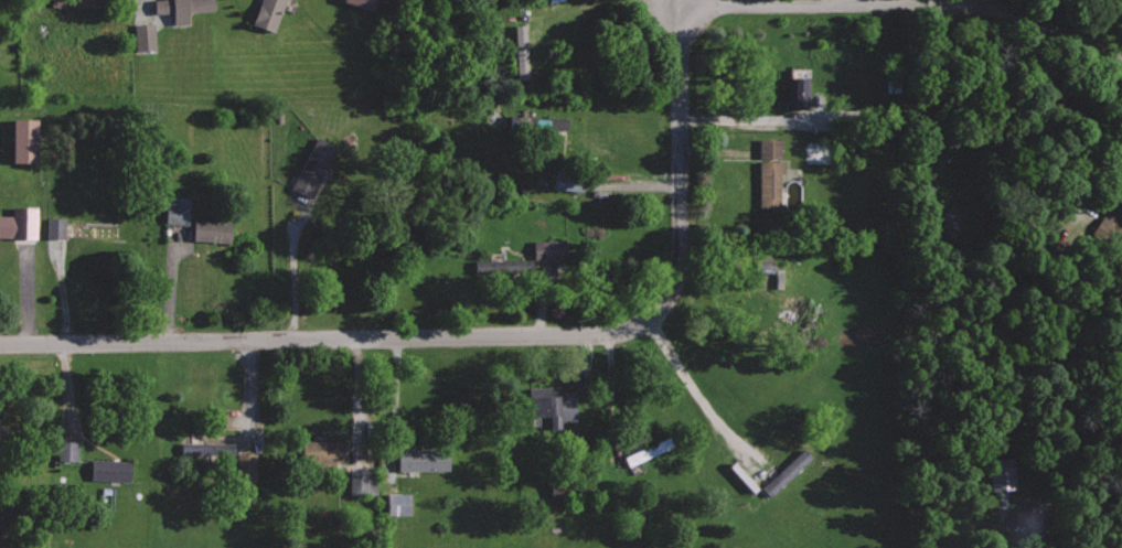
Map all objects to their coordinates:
road: (676, 1)
building: (68, 2)
building: (359, 2)
road: (905, 2)
building: (179, 8)
building: (266, 13)
building: (141, 35)
building: (519, 51)
building: (798, 87)
building: (549, 122)
building: (22, 140)
building: (311, 166)
building: (768, 173)
building: (565, 180)
building: (174, 209)
building: (18, 223)
building: (53, 227)
building: (210, 230)
building: (547, 249)
road: (558, 251)
building: (762, 265)
road: (488, 333)
building: (549, 406)
building: (2, 437)
building: (204, 448)
building: (65, 450)
building: (321, 451)
building: (645, 451)
building: (420, 460)
building: (108, 469)
building: (244, 469)
building: (780, 475)
building: (361, 482)
building: (396, 504)

